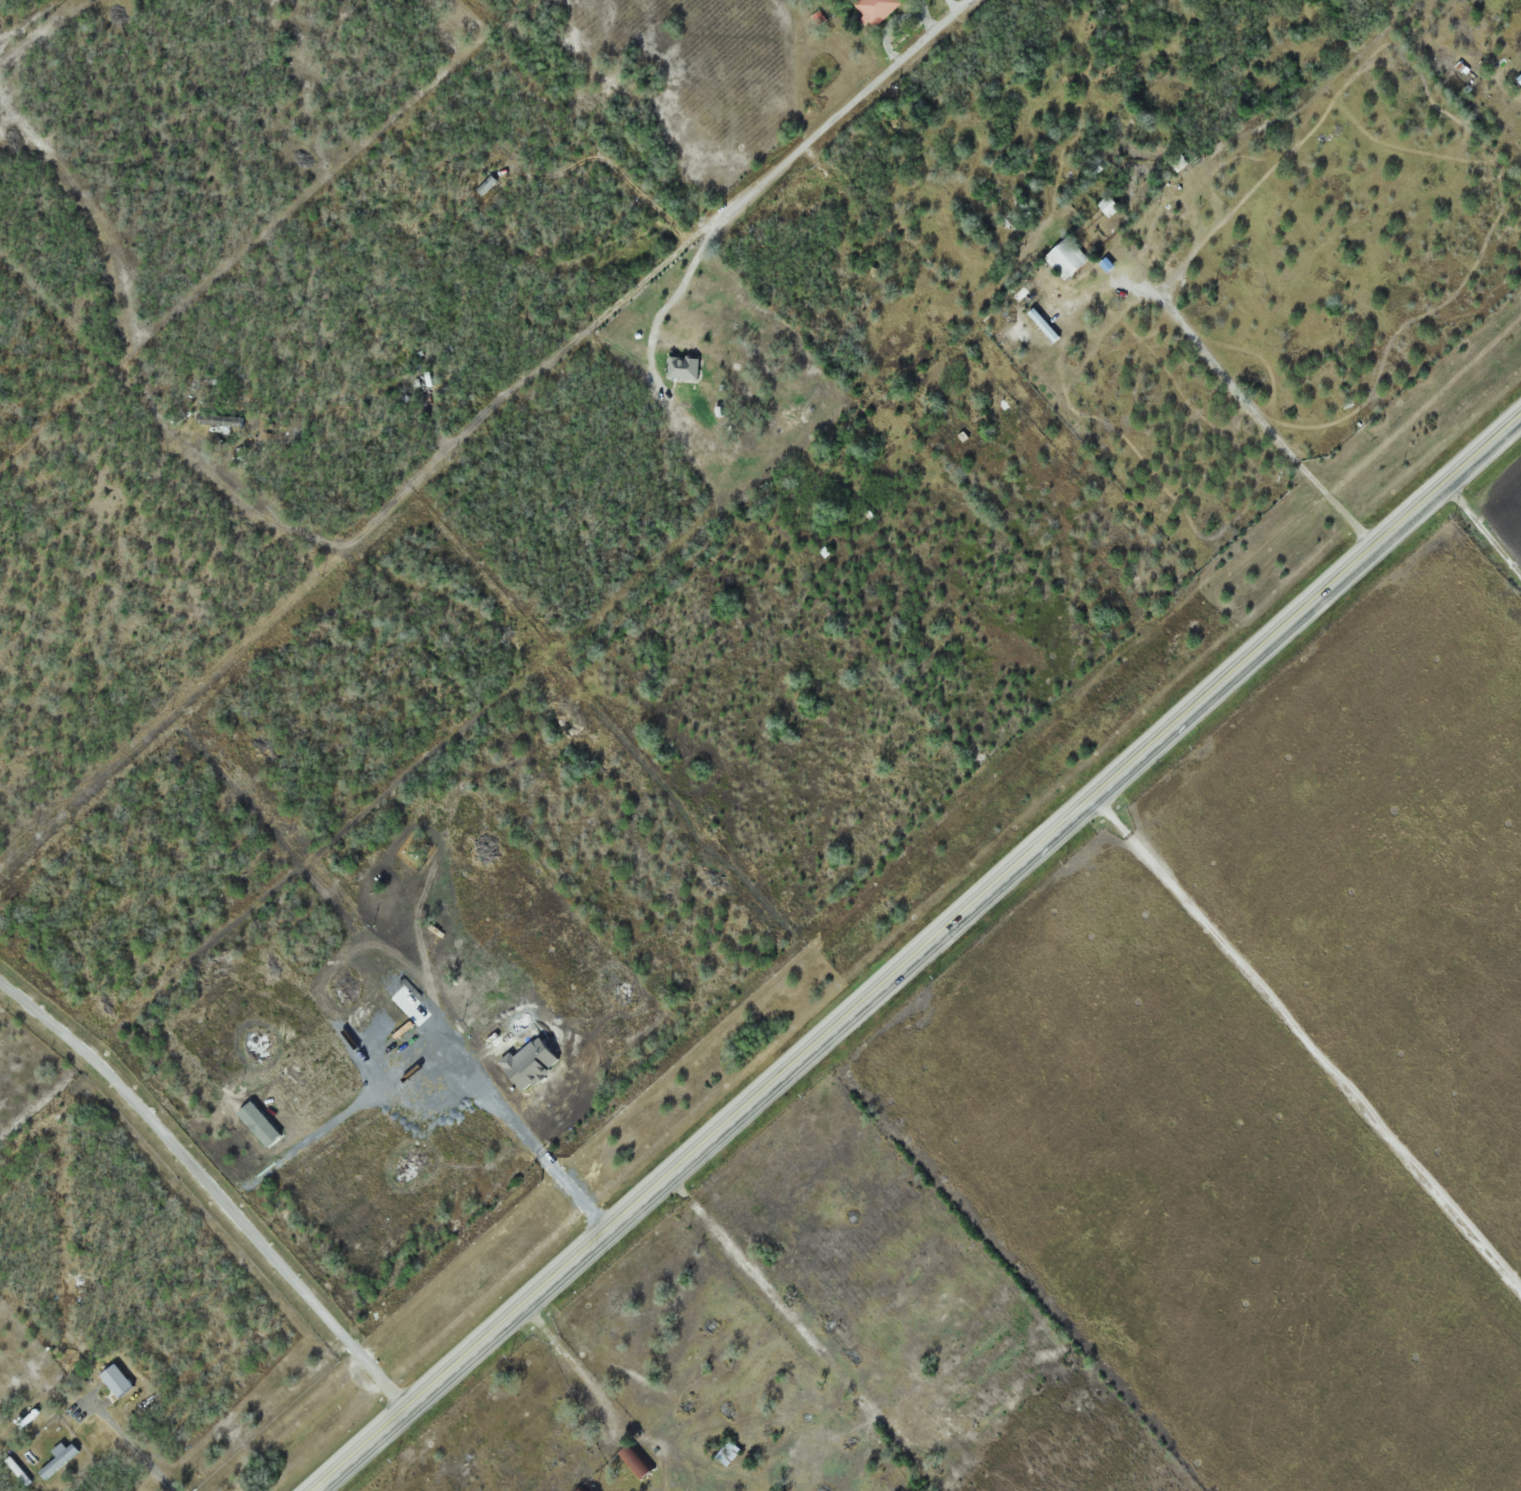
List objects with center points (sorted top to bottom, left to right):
building: (872, 9)
road: (847, 105)
building: (1174, 162)
building: (1043, 197)
building: (1105, 206)
building: (1063, 257)
road: (1483, 526)
road: (916, 954)
building: (62, 993)
road: (1308, 1043)
road: (209, 1188)
road: (574, 1368)
building: (796, 1406)
building: (62, 1461)
building: (638, 1463)
building: (19, 1471)

